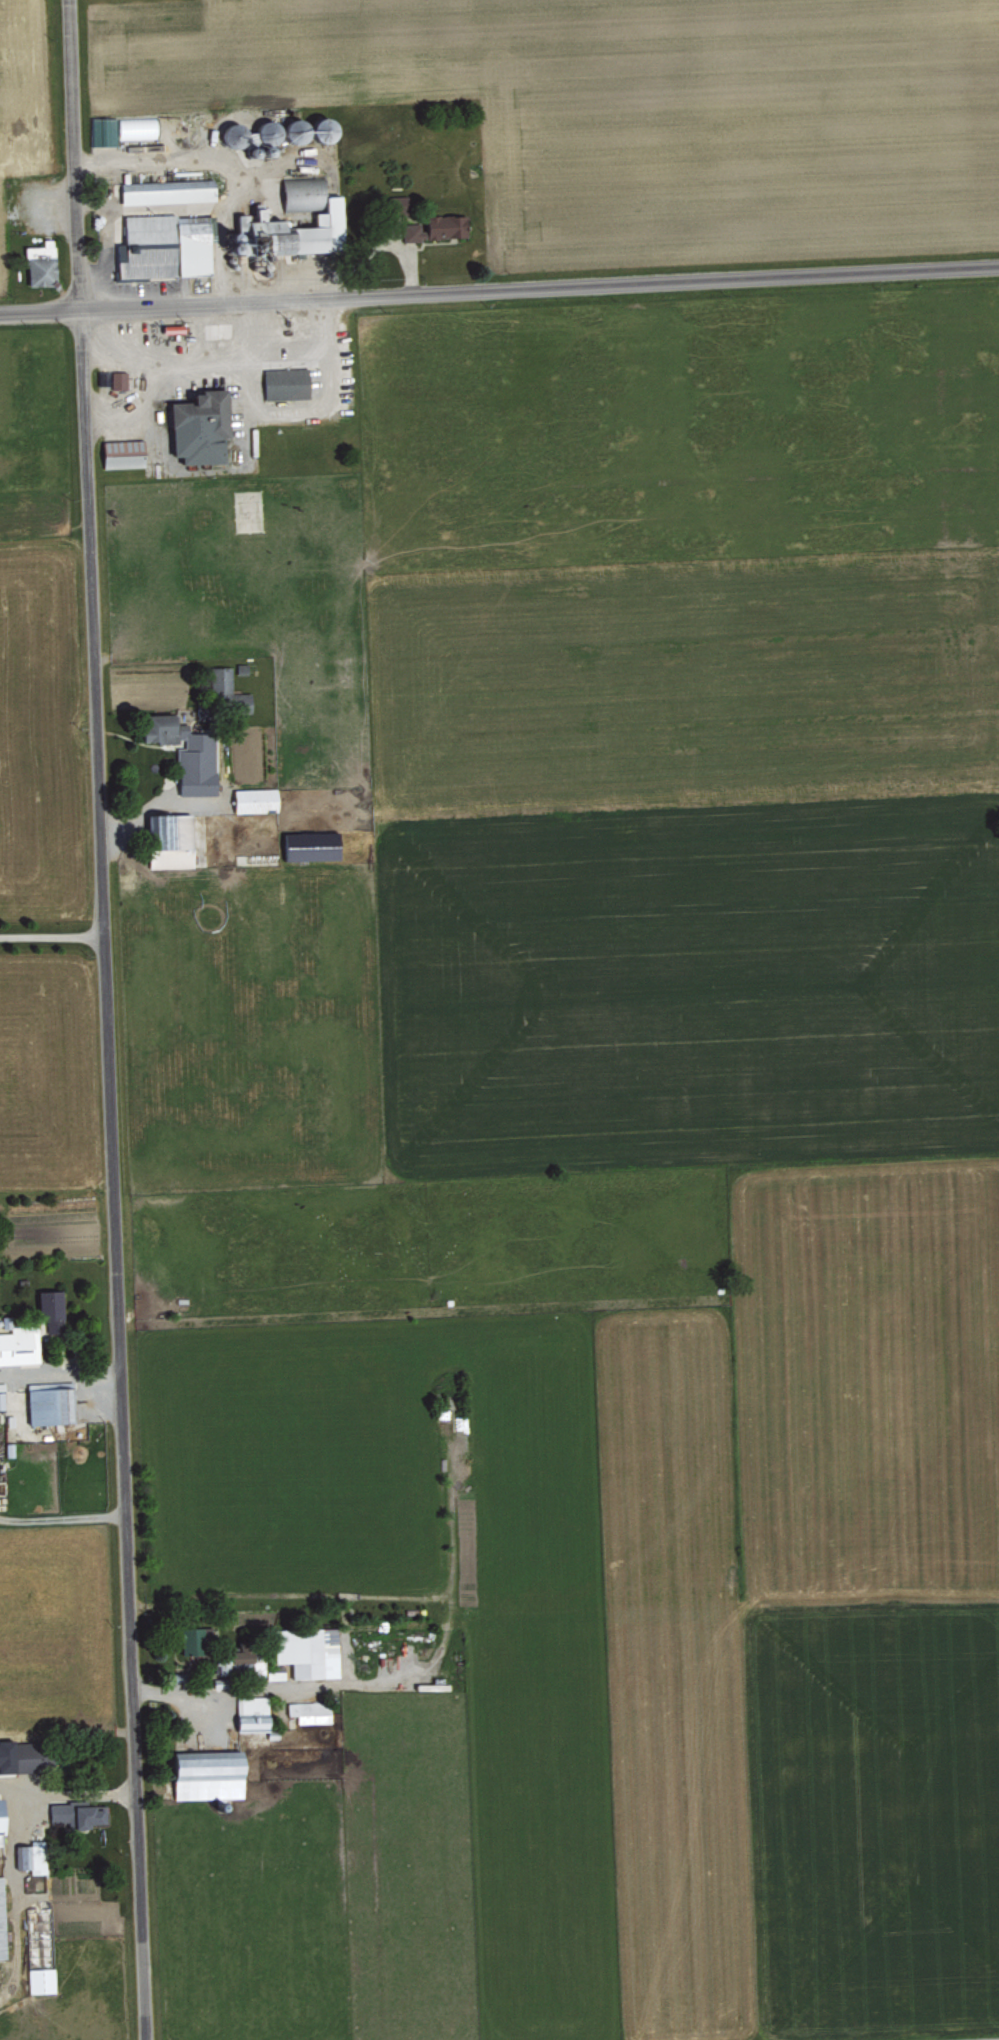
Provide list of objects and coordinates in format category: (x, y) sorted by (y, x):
building: (137, 127)
building: (103, 131)
building: (167, 191)
building: (329, 215)
building: (437, 227)
building: (164, 247)
building: (41, 264)
road: (499, 291)
road: (262, 320)
road: (195, 330)
road: (214, 353)
building: (119, 379)
building: (287, 383)
building: (201, 427)
building: (123, 453)
building: (187, 753)
building: (255, 800)
building: (171, 841)
building: (312, 846)
road: (51, 936)
road: (107, 1019)
building: (50, 1312)
building: (20, 1345)
building: (2, 1399)
building: (51, 1404)
building: (194, 1639)
building: (309, 1651)
building: (310, 1711)
building: (253, 1714)
building: (21, 1755)
building: (208, 1774)
road: (69, 1796)
building: (75, 1815)
building: (1, 1823)
building: (32, 1857)
building: (2, 1920)
building: (41, 1980)

